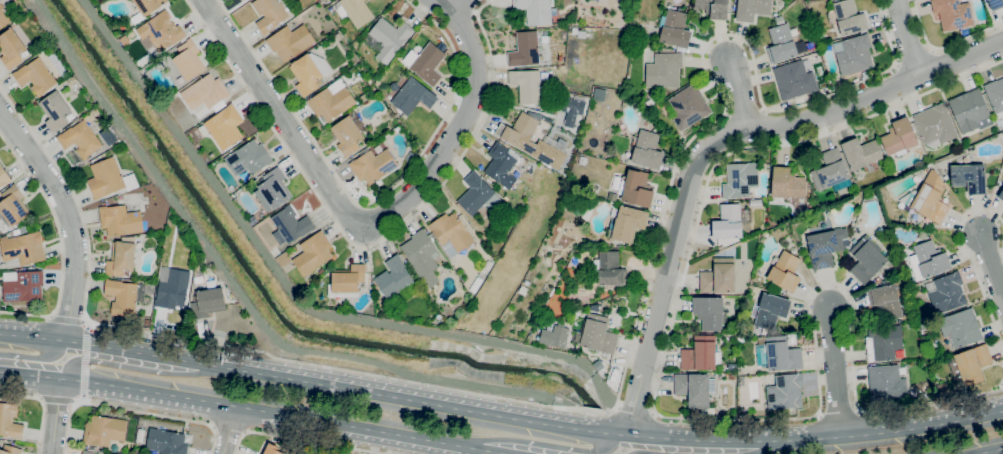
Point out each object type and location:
building: (240, 0)
building: (590, 0)
building: (963, 0)
road: (454, 3)
building: (995, 4)
building: (145, 8)
building: (713, 8)
building: (752, 9)
building: (354, 11)
building: (535, 11)
building: (953, 13)
building: (269, 14)
building: (4, 17)
building: (849, 17)
building: (675, 29)
building: (160, 32)
building: (337, 36)
road: (908, 38)
building: (387, 39)
building: (124, 41)
building: (290, 41)
building: (781, 41)
road: (943, 44)
building: (11, 49)
building: (524, 49)
building: (853, 54)
building: (189, 60)
building: (425, 63)
building: (663, 71)
building: (308, 73)
building: (864, 75)
building: (35, 76)
building: (795, 79)
building: (71, 81)
building: (527, 85)
building: (50, 89)
building: (205, 92)
road: (741, 93)
building: (599, 94)
building: (995, 96)
building: (364, 97)
building: (412, 97)
building: (331, 101)
building: (649, 102)
building: (688, 107)
building: (571, 109)
building: (56, 111)
building: (970, 111)
road: (464, 113)
building: (392, 118)
building: (935, 125)
building: (225, 127)
building: (519, 130)
road: (292, 131)
building: (348, 133)
building: (899, 137)
building: (80, 139)
road: (717, 142)
building: (647, 150)
building: (861, 154)
building: (248, 158)
building: (582, 160)
building: (502, 164)
building: (373, 165)
building: (831, 171)
building: (969, 177)
building: (3, 179)
building: (109, 179)
building: (740, 179)
building: (786, 183)
railway: (549, 186)
building: (275, 188)
building: (636, 188)
building: (477, 194)
building: (1001, 195)
building: (930, 198)
building: (754, 202)
road: (367, 203)
building: (13, 205)
road: (71, 217)
building: (120, 220)
building: (728, 222)
building: (627, 223)
building: (927, 225)
building: (290, 226)
building: (21, 230)
building: (451, 234)
building: (922, 235)
road: (60, 241)
building: (608, 245)
road: (363, 246)
building: (616, 246)
building: (826, 246)
building: (22, 249)
building: (313, 254)
building: (421, 256)
building: (121, 257)
building: (866, 259)
building: (927, 260)
road: (969, 260)
building: (488, 265)
road: (992, 266)
building: (196, 268)
building: (610, 269)
building: (321, 271)
building: (784, 271)
building: (718, 276)
building: (394, 279)
building: (198, 280)
building: (346, 281)
building: (475, 285)
building: (22, 286)
building: (172, 288)
building: (946, 292)
building: (122, 297)
building: (885, 301)
building: (208, 303)
building: (454, 308)
building: (771, 310)
building: (709, 312)
road: (49, 316)
road: (64, 318)
road: (82, 320)
building: (146, 323)
road: (86, 326)
building: (960, 328)
building: (598, 334)
building: (553, 335)
road: (52, 340)
building: (740, 340)
building: (883, 343)
building: (701, 354)
building: (782, 354)
road: (152, 355)
road: (32, 356)
road: (83, 361)
road: (83, 363)
building: (969, 365)
road: (835, 374)
building: (732, 377)
building: (886, 383)
building: (694, 389)
building: (941, 390)
building: (785, 391)
road: (81, 398)
road: (54, 399)
road: (75, 401)
road: (43, 405)
road: (245, 408)
road: (635, 408)
road: (131, 410)
road: (579, 410)
road: (980, 414)
road: (56, 415)
road: (673, 417)
building: (10, 422)
road: (576, 423)
road: (229, 430)
building: (104, 431)
road: (306, 439)
building: (166, 442)
road: (728, 446)
road: (557, 447)
building: (10, 450)
road: (985, 450)
building: (272, 451)
building: (90, 452)

